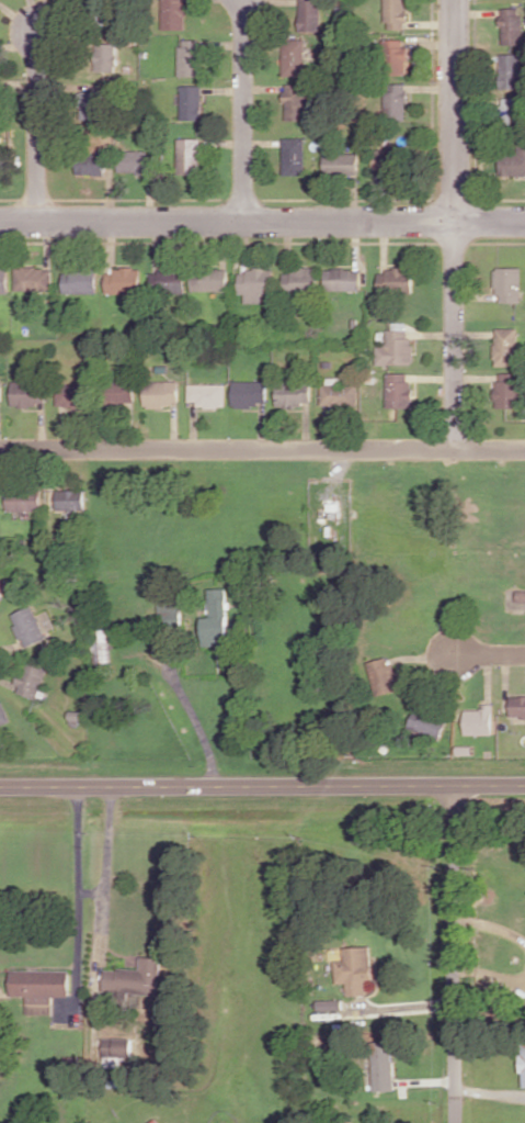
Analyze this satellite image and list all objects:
building: (396, 13)
building: (174, 14)
building: (310, 15)
building: (512, 24)
building: (395, 56)
building: (105, 57)
building: (190, 57)
building: (294, 57)
building: (510, 70)
building: (396, 101)
building: (191, 102)
building: (296, 102)
building: (93, 103)
road: (244, 111)
building: (512, 111)
road: (38, 124)
building: (189, 155)
building: (294, 156)
building: (512, 160)
building: (135, 161)
building: (387, 161)
building: (91, 162)
building: (341, 162)
road: (262, 222)
road: (455, 224)
building: (33, 279)
building: (300, 279)
building: (343, 279)
building: (4, 280)
building: (124, 280)
building: (210, 280)
building: (80, 281)
building: (168, 281)
building: (396, 281)
building: (255, 283)
building: (509, 284)
building: (506, 346)
building: (397, 348)
building: (399, 390)
building: (121, 392)
building: (509, 392)
building: (27, 393)
building: (161, 393)
building: (250, 393)
building: (72, 394)
building: (208, 394)
building: (293, 394)
building: (340, 394)
road: (129, 425)
road: (195, 425)
road: (175, 426)
road: (264, 426)
road: (307, 426)
road: (329, 427)
road: (262, 448)
building: (23, 499)
building: (69, 499)
park: (460, 537)
building: (1, 586)
building: (170, 610)
building: (217, 618)
building: (28, 627)
building: (103, 645)
road: (491, 654)
road: (427, 655)
building: (385, 674)
road: (489, 676)
building: (32, 680)
road: (506, 680)
building: (517, 706)
road: (193, 708)
building: (3, 714)
building: (481, 719)
building: (431, 720)
building: (386, 745)
building: (467, 748)
road: (262, 784)
road: (490, 808)
road: (104, 866)
road: (75, 879)
road: (490, 924)
road: (453, 954)
building: (357, 966)
road: (489, 974)
building: (135, 978)
building: (39, 987)
building: (331, 1001)
road: (403, 1004)
building: (117, 1046)
building: (522, 1063)
building: (390, 1067)
road: (432, 1080)
road: (490, 1091)
building: (156, 1121)

